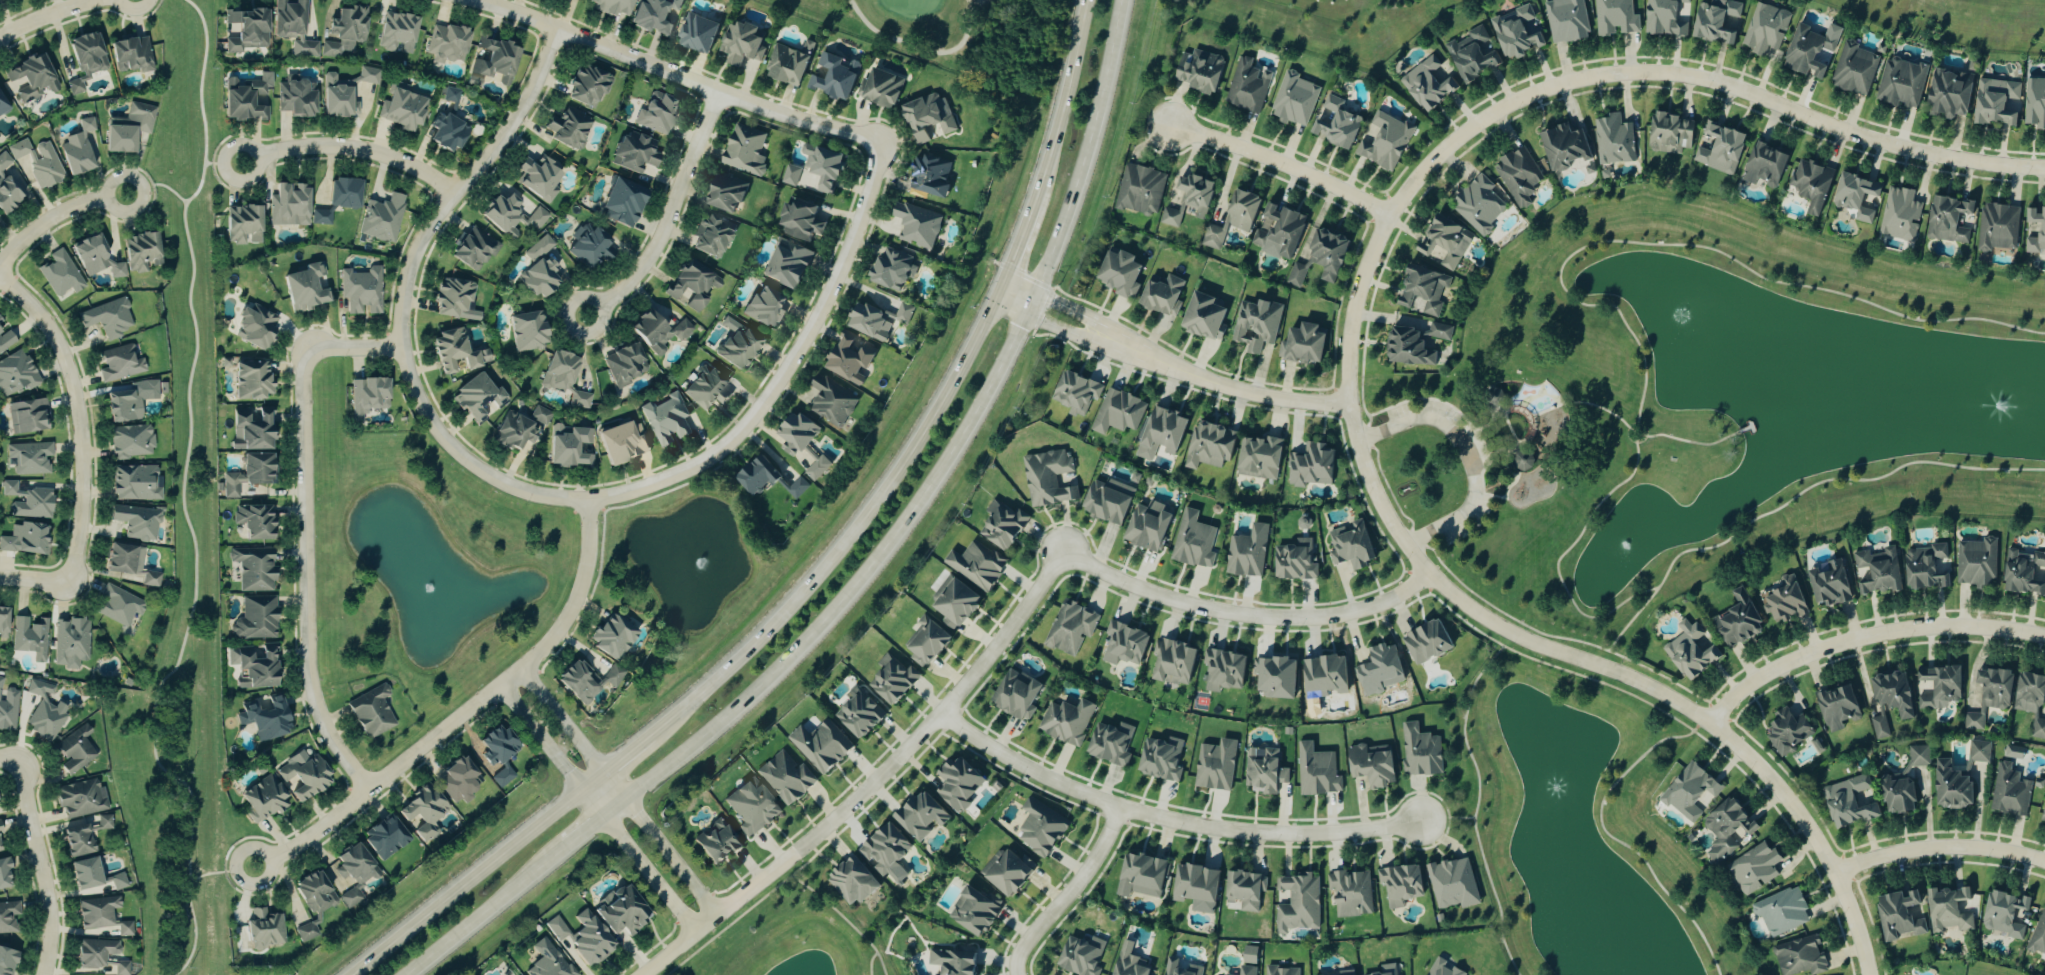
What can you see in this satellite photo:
building: (610, 6)
road: (133, 7)
building: (655, 15)
road: (47, 16)
building: (1614, 17)
building: (1665, 17)
building: (1565, 20)
building: (1716, 22)
park: (911, 25)
building: (291, 26)
building: (246, 29)
building: (344, 30)
building: (1764, 30)
building: (396, 31)
building: (1514, 32)
building: (697, 33)
building: (447, 43)
building: (740, 43)
building: (1808, 52)
building: (130, 53)
building: (1472, 54)
building: (84, 58)
building: (493, 62)
building: (788, 63)
building: (1853, 69)
building: (1197, 71)
road: (680, 76)
building: (834, 76)
building: (31, 77)
building: (1900, 83)
building: (1426, 84)
building: (587, 85)
building: (1245, 87)
building: (880, 88)
building: (342, 91)
building: (1948, 94)
building: (451, 95)
building: (295, 97)
building: (246, 98)
road: (1065, 99)
building: (1293, 100)
building: (1996, 103)
building: (2034, 104)
building: (2, 106)
building: (402, 107)
building: (657, 112)
building: (928, 118)
building: (1334, 124)
building: (128, 127)
building: (571, 128)
building: (446, 132)
building: (1669, 134)
building: (1382, 141)
building: (1612, 141)
building: (1563, 147)
building: (77, 148)
road: (354, 148)
building: (1718, 149)
building: (745, 150)
building: (632, 152)
building: (4, 160)
building: (38, 161)
road: (1284, 163)
building: (822, 165)
building: (1763, 166)
building: (1589, 168)
building: (791, 175)
building: (929, 176)
building: (538, 177)
building: (1517, 177)
building: (1809, 185)
building: (1139, 191)
building: (9, 192)
building: (343, 192)
building: (725, 192)
building: (1856, 197)
building: (1187, 200)
building: (621, 201)
building: (288, 204)
building: (1477, 207)
building: (499, 211)
building: (321, 215)
building: (1898, 216)
building: (0, 217)
building: (382, 218)
building: (1232, 218)
building: (800, 219)
road: (57, 220)
building: (1948, 221)
building: (242, 223)
building: (916, 225)
building: (1997, 229)
building: (1277, 231)
building: (2034, 231)
building: (711, 236)
building: (1440, 243)
building: (589, 244)
road: (1019, 244)
building: (473, 248)
road: (1702, 248)
building: (141, 251)
building: (95, 256)
road: (648, 257)
building: (1320, 258)
building: (787, 264)
building: (539, 268)
building: (891, 268)
building: (1119, 273)
building: (60, 274)
building: (693, 283)
building: (306, 286)
building: (363, 290)
traffic signals: (1001, 290)
building: (1421, 292)
traffic signals: (1042, 293)
building: (1160, 295)
road: (403, 296)
building: (453, 298)
building: (764, 307)
traffic signals: (1032, 315)
building: (1203, 316)
building: (107, 317)
building: (876, 319)
road: (1100, 319)
building: (254, 325)
building: (1254, 325)
building: (658, 327)
building: (526, 331)
building: (5, 338)
road: (1091, 339)
building: (737, 344)
building: (1301, 344)
road: (357, 346)
building: (1407, 347)
building: (451, 351)
building: (483, 355)
road: (1351, 355)
building: (848, 358)
building: (119, 363)
building: (624, 363)
road: (788, 368)
building: (557, 370)
building: (16, 373)
building: (251, 380)
road: (1361, 382)
building: (706, 387)
building: (1076, 393)
building: (367, 394)
road: (1269, 396)
building: (1495, 397)
building: (477, 398)
building: (580, 399)
road: (1425, 399)
building: (128, 401)
building: (831, 401)
fountain: (2003, 402)
road: (1582, 404)
road: (1487, 407)
road: (1500, 410)
building: (1118, 411)
road: (1505, 412)
road: (1521, 413)
road: (1492, 414)
building: (27, 415)
road: (1499, 416)
road: (81, 417)
building: (667, 419)
road: (1369, 422)
road: (1485, 426)
pier: (1750, 427)
building: (251, 428)
building: (519, 428)
road: (1634, 428)
road: (1509, 430)
pier: (1751, 430)
road: (1639, 431)
pier: (1744, 431)
building: (1162, 432)
building: (794, 434)
road: (1364, 435)
road: (1530, 435)
road: (1633, 435)
road: (1638, 437)
building: (131, 441)
building: (620, 443)
road: (1690, 443)
road: (1480, 444)
road: (1365, 445)
road: (1511, 445)
building: (568, 446)
building: (1208, 446)
road: (958, 448)
park: (1482, 449)
road: (1496, 452)
road: (1465, 455)
building: (29, 457)
building: (1257, 458)
building: (1526, 462)
road: (1504, 465)
building: (1310, 466)
building: (817, 468)
building: (247, 474)
building: (756, 475)
road: (1480, 475)
road: (1517, 476)
building: (1049, 478)
road: (1833, 480)
building: (135, 482)
building: (797, 488)
road: (1508, 488)
road: (1388, 491)
road: (1487, 495)
road: (1498, 498)
building: (28, 500)
building: (1106, 500)
building: (254, 521)
building: (136, 522)
building: (1001, 525)
building: (1147, 525)
road: (1470, 531)
road: (855, 535)
road: (1409, 538)
building: (25, 539)
building: (1193, 540)
building: (1350, 545)
road: (1416, 545)
road: (1429, 550)
fountain: (1624, 550)
building: (1247, 551)
fountain: (694, 557)
building: (123, 558)
building: (1295, 560)
road: (1558, 560)
building: (976, 564)
building: (1975, 564)
building: (253, 568)
building: (1925, 568)
building: (1875, 571)
building: (2024, 573)
road: (306, 576)
building: (151, 579)
road: (36, 582)
building: (1827, 585)
fountain: (433, 590)
building: (954, 602)
building: (1784, 602)
building: (118, 605)
building: (256, 618)
road: (1511, 619)
road: (1632, 619)
road: (1245, 620)
building: (1736, 621)
building: (3, 622)
building: (1071, 628)
building: (611, 636)
road: (1866, 636)
building: (31, 637)
building: (71, 641)
building: (926, 642)
building: (1425, 642)
building: (1124, 644)
building: (1689, 652)
building: (1172, 661)
building: (253, 665)
building: (1223, 669)
building: (1379, 670)
road: (1572, 673)
building: (1324, 675)
building: (1274, 676)
road: (1658, 676)
building: (585, 680)
building: (892, 680)
building: (1938, 687)
building: (1016, 695)
building: (1891, 695)
building: (1988, 696)
building: (2030, 702)
building: (8, 707)
building: (1836, 708)
building: (44, 712)
building: (371, 712)
road: (467, 712)
building: (860, 712)
building: (265, 716)
building: (1067, 721)
building: (1880, 726)
road: (575, 730)
building: (1786, 731)
road: (543, 736)
building: (1110, 743)
building: (495, 745)
building: (821, 745)
building: (74, 751)
building: (1420, 751)
road: (629, 753)
building: (1977, 753)
building: (2014, 753)
building: (1917, 757)
building: (1160, 758)
road: (12, 759)
building: (1371, 764)
road: (1730, 764)
building: (1215, 765)
building: (1263, 770)
building: (1316, 771)
building: (503, 776)
building: (304, 777)
building: (786, 778)
building: (459, 780)
road: (595, 780)
building: (958, 784)
road: (875, 786)
building: (1951, 787)
fountain: (1556, 788)
building: (2008, 793)
building: (1689, 794)
building: (1897, 795)
building: (80, 798)
building: (263, 798)
building: (1847, 803)
road: (615, 804)
road: (1475, 807)
building: (751, 808)
building: (421, 813)
building: (2043, 814)
building: (920, 816)
road: (1447, 818)
road: (1167, 821)
building: (1727, 827)
building: (0, 828)
building: (1040, 828)
road: (584, 830)
building: (84, 835)
building: (384, 837)
building: (715, 842)
road: (836, 844)
road: (1940, 847)
building: (0, 849)
road: (673, 855)
road: (641, 860)
building: (351, 865)
road: (43, 867)
building: (1753, 870)
building: (84, 873)
building: (1005, 873)
building: (4, 874)
building: (1141, 876)
building: (119, 881)
building: (852, 881)
road: (469, 882)
building: (1452, 883)
building: (1400, 884)
building: (1195, 886)
building: (1242, 890)
road: (1069, 893)
building: (1350, 894)
building: (350, 897)
building: (312, 901)
building: (1297, 903)
road: (750, 908)
road: (483, 909)
building: (1948, 911)
building: (98, 912)
building: (972, 912)
building: (621, 913)
building: (1780, 913)
building: (2002, 914)
building: (8, 917)
building: (1899, 917)
road: (843, 920)
building: (125, 928)
building: (557, 928)
building: (264, 929)
building: (2038, 937)
building: (588, 939)
building: (1249, 955)
building: (99, 956)
building: (1080, 957)
building: (1799, 958)
building: (548, 960)
building: (6, 961)
building: (1127, 961)
road: (870, 963)
building: (950, 963)
building: (1169, 966)
building: (1441, 968)
building: (1387, 969)
building: (1247, 970)
building: (1281, 970)
building: (1345, 972)

